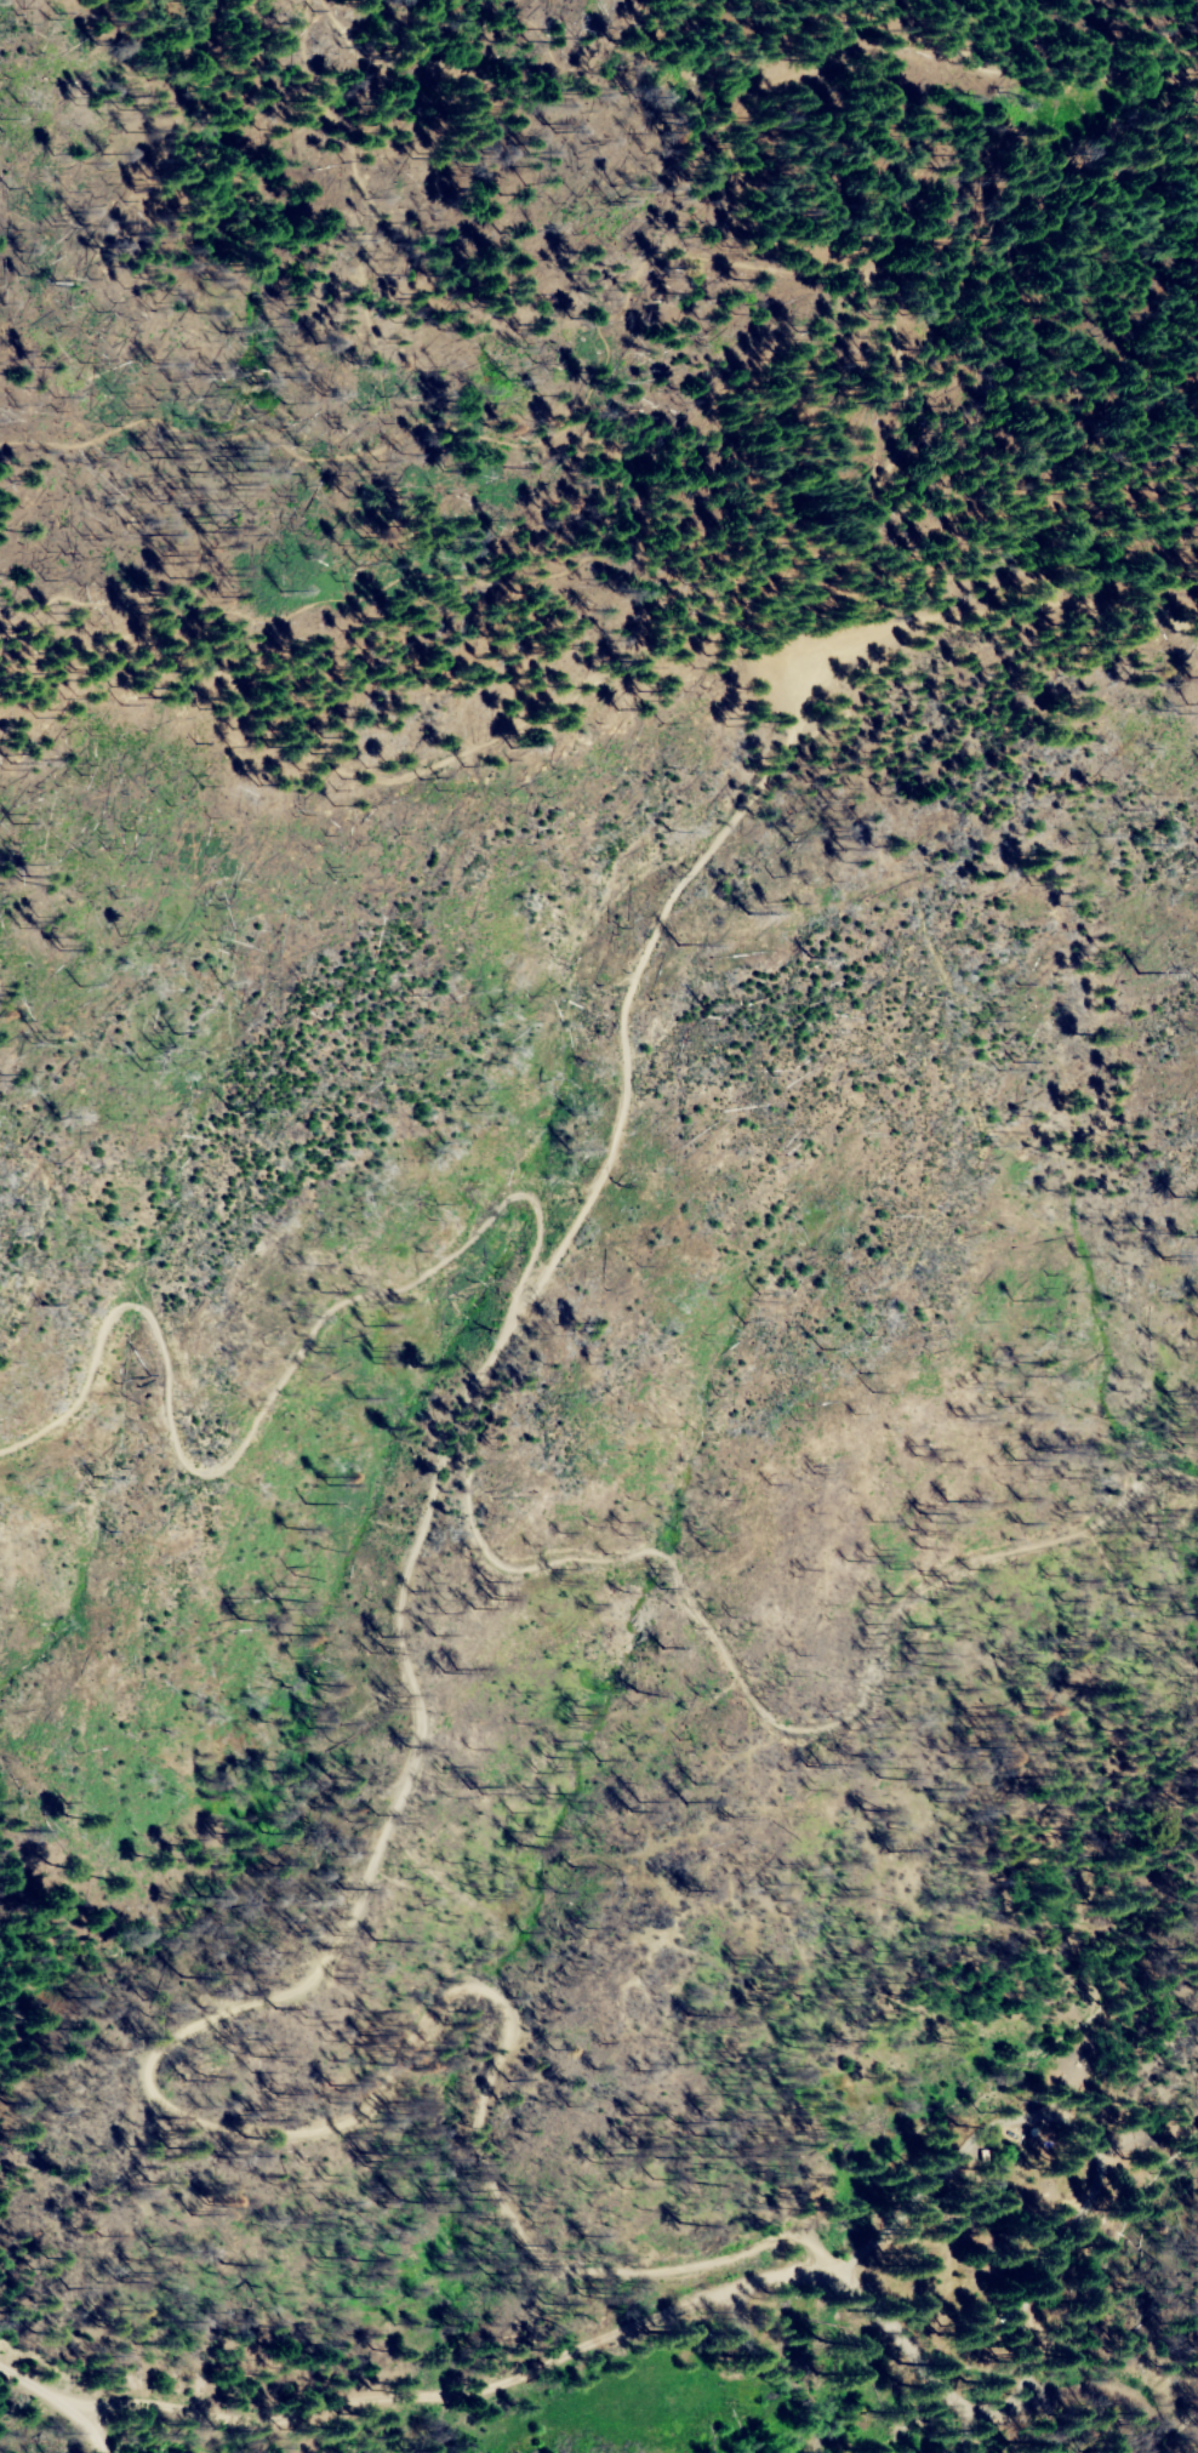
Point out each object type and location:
road: (999, 617)
road: (423, 1508)
road: (1080, 2137)
road: (903, 2340)
road: (760, 2367)
road: (437, 2384)
road: (58, 2401)

